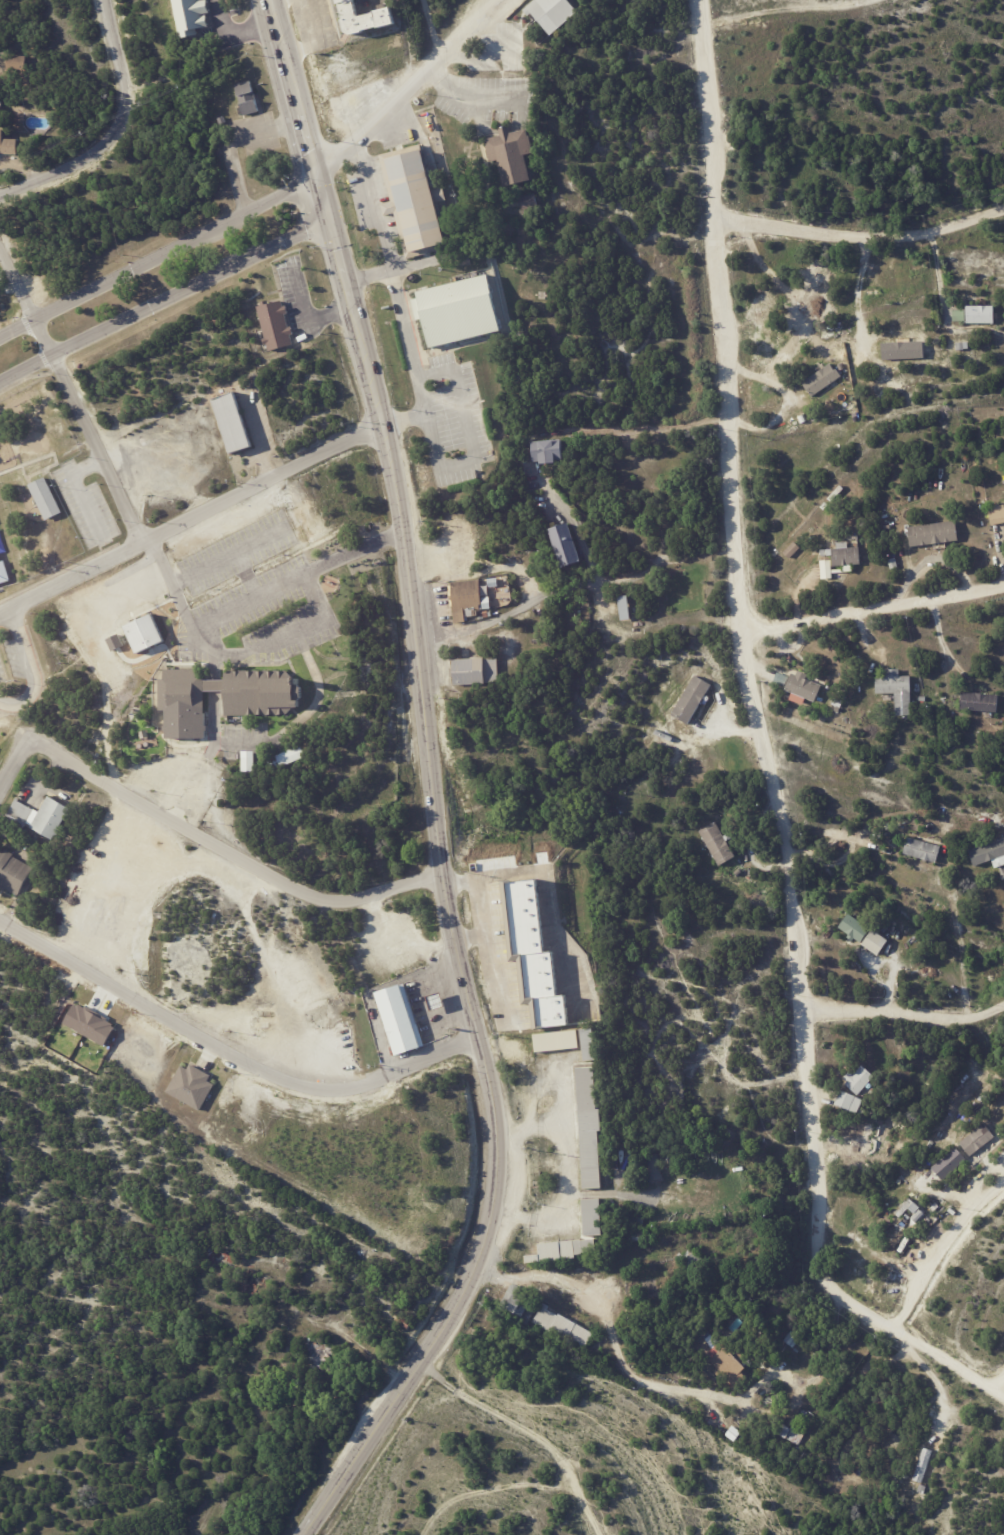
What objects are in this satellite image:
building: (552, 12)
building: (190, 17)
building: (365, 18)
road: (433, 30)
road: (235, 33)
building: (16, 63)
road: (294, 86)
road: (413, 89)
building: (247, 99)
road: (478, 99)
building: (1, 104)
road: (111, 131)
building: (329, 131)
road: (233, 139)
building: (7, 146)
building: (511, 153)
road: (321, 197)
building: (413, 197)
building: (529, 201)
road: (375, 207)
road: (863, 238)
road: (157, 254)
road: (397, 267)
building: (960, 270)
road: (861, 284)
road: (162, 298)
road: (942, 307)
building: (458, 309)
road: (305, 312)
building: (977, 314)
building: (275, 325)
building: (962, 346)
building: (904, 347)
building: (943, 364)
building: (823, 379)
road: (71, 392)
road: (404, 418)
building: (232, 421)
building: (547, 450)
road: (435, 451)
road: (83, 490)
building: (45, 498)
building: (997, 514)
road: (196, 515)
building: (889, 527)
building: (934, 533)
road: (579, 536)
building: (565, 544)
building: (2, 545)
building: (793, 550)
building: (846, 554)
road: (225, 557)
building: (894, 563)
building: (825, 568)
building: (3, 573)
road: (248, 573)
building: (465, 598)
road: (250, 599)
building: (625, 607)
road: (5, 611)
road: (877, 611)
building: (486, 613)
road: (492, 621)
building: (143, 632)
road: (278, 638)
building: (849, 638)
building: (114, 642)
road: (27, 665)
road: (121, 670)
building: (474, 671)
building: (800, 686)
building: (897, 690)
building: (228, 693)
building: (924, 699)
building: (692, 700)
building: (838, 702)
building: (980, 702)
building: (838, 709)
building: (1003, 720)
road: (267, 739)
road: (767, 748)
building: (287, 758)
building: (247, 762)
road: (14, 763)
building: (37, 815)
building: (718, 844)
road: (228, 850)
building: (923, 850)
building: (990, 854)
building: (13, 872)
building: (738, 873)
road: (542, 896)
road: (448, 900)
building: (882, 927)
building: (854, 929)
road: (468, 939)
building: (876, 942)
road: (483, 952)
building: (532, 955)
road: (906, 1016)
building: (400, 1018)
building: (714, 1036)
road: (232, 1037)
building: (557, 1043)
building: (589, 1046)
building: (859, 1080)
building: (191, 1085)
building: (850, 1102)
building: (589, 1128)
building: (978, 1140)
building: (947, 1162)
building: (655, 1167)
road: (566, 1173)
building: (592, 1217)
building: (637, 1221)
building: (637, 1237)
building: (562, 1251)
road: (945, 1252)
building: (219, 1255)
building: (694, 1262)
road: (627, 1263)
building: (518, 1305)
building: (406, 1322)
building: (562, 1328)
building: (793, 1339)
road: (617, 1351)
building: (321, 1357)
building: (728, 1362)
road: (933, 1382)
building: (794, 1432)
building: (923, 1465)

